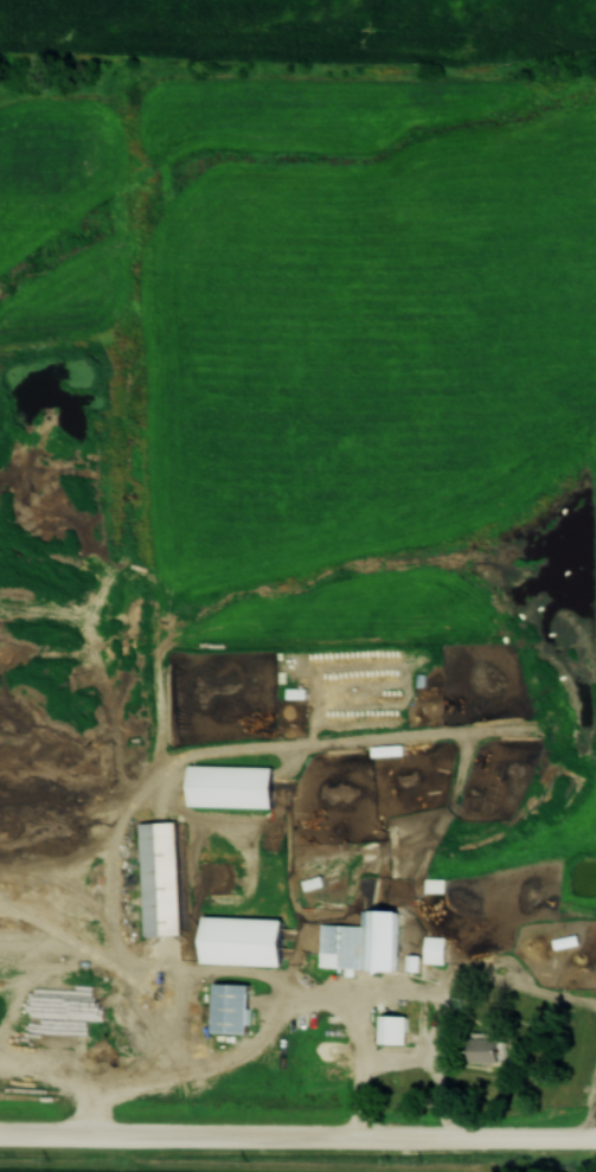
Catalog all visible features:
building: (385, 749)
building: (226, 786)
building: (158, 878)
building: (237, 940)
building: (563, 941)
building: (359, 942)
building: (432, 949)
building: (226, 1007)
building: (389, 1029)
building: (486, 1050)
road: (297, 1132)

